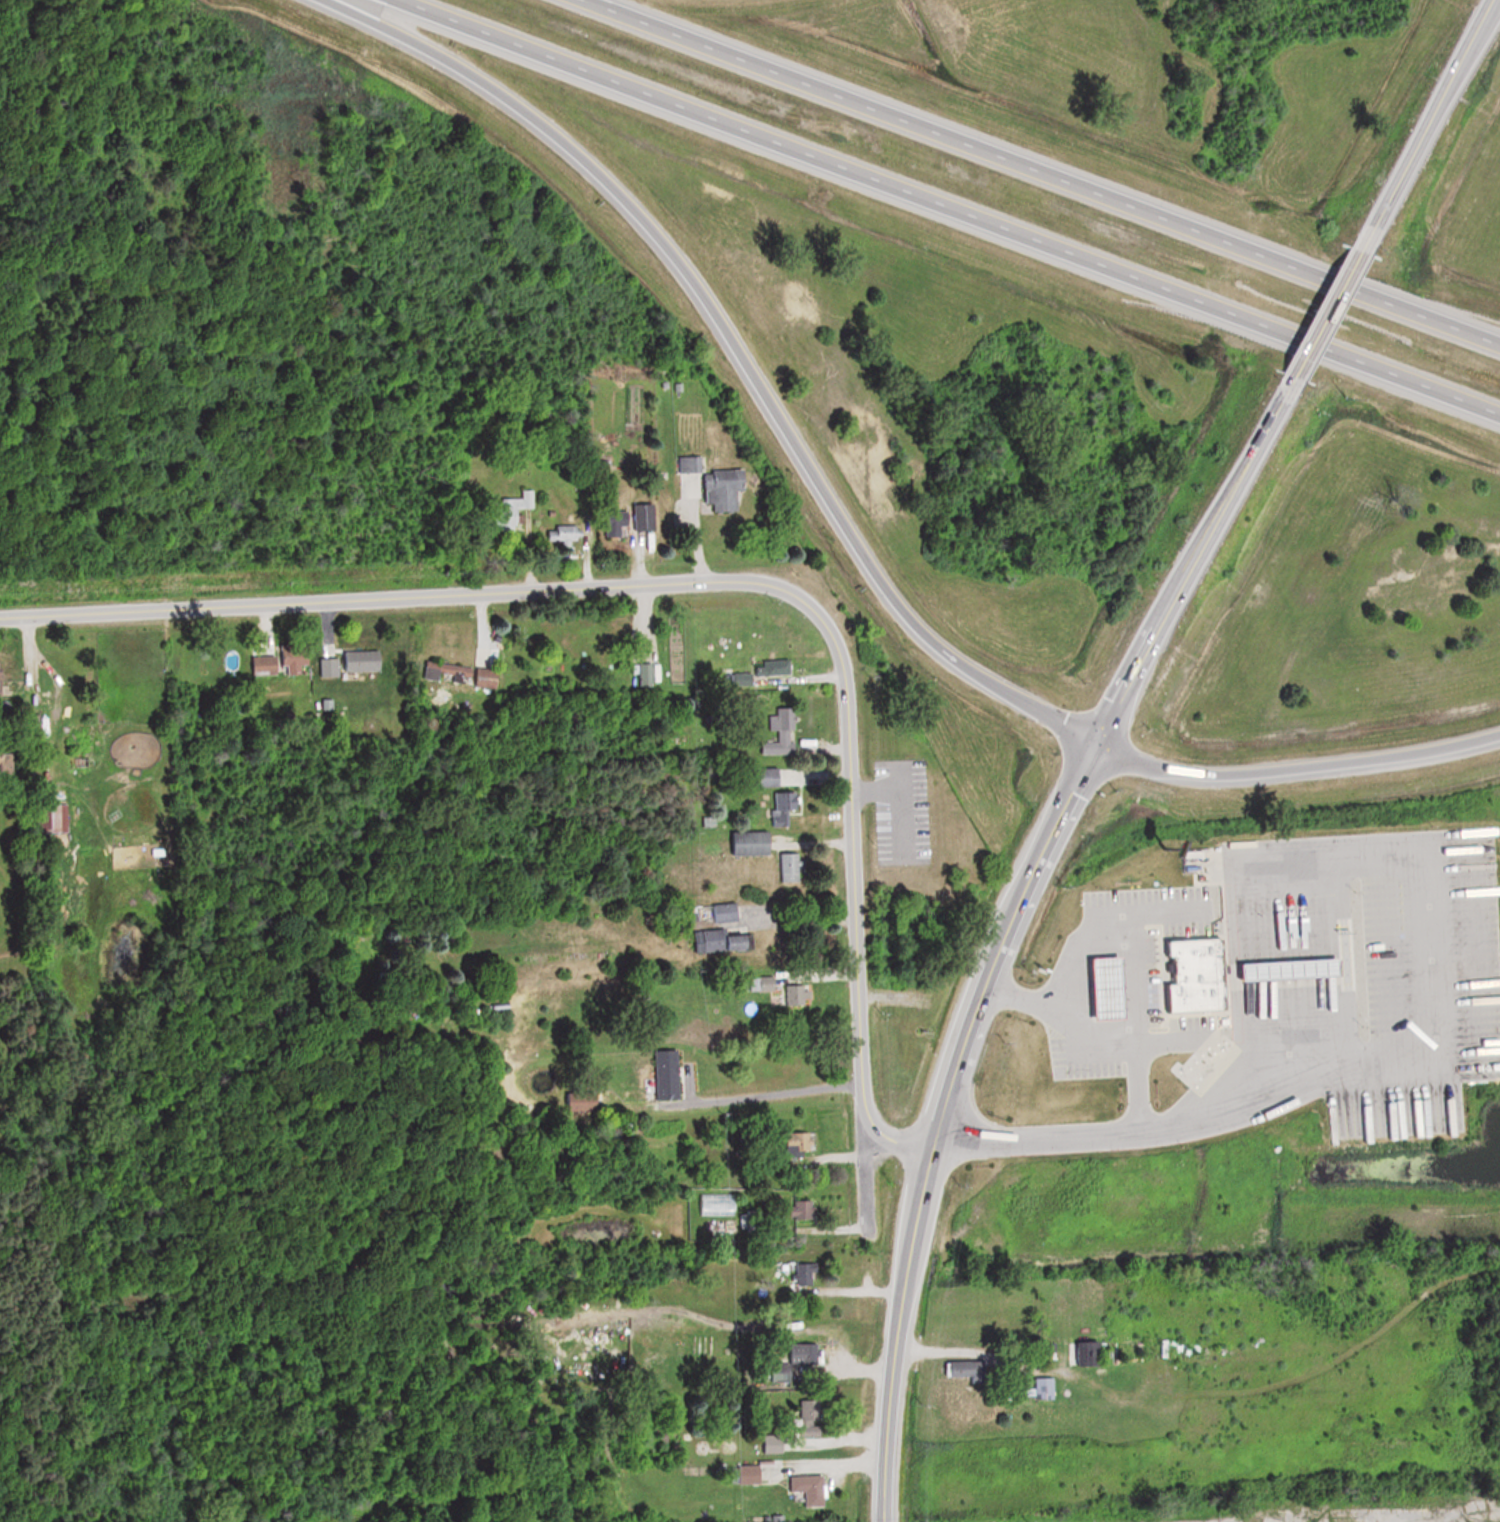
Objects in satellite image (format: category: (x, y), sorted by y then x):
road: (1425, 127)
road: (1036, 175)
road: (945, 208)
road: (1329, 317)
road: (730, 349)
building: (688, 464)
building: (727, 488)
building: (649, 520)
building: (618, 523)
road: (702, 585)
building: (366, 660)
building: (295, 662)
building: (1, 670)
building: (461, 674)
building: (780, 741)
road: (1294, 769)
road: (900, 777)
road: (900, 793)
building: (786, 803)
building: (61, 817)
building: (752, 843)
building: (792, 867)
building: (728, 912)
road: (804, 916)
road: (1007, 923)
building: (728, 941)
road: (1081, 948)
building: (1287, 968)
building: (1195, 975)
building: (1104, 987)
building: (799, 995)
road: (1441, 1011)
road: (1079, 1054)
building: (670, 1073)
road: (778, 1094)
building: (585, 1100)
building: (799, 1140)
road: (1035, 1141)
building: (803, 1209)
building: (756, 1220)
building: (721, 1226)
building: (804, 1275)
road: (981, 1349)
building: (809, 1355)
building: (964, 1368)
road: (842, 1466)
building: (812, 1489)

